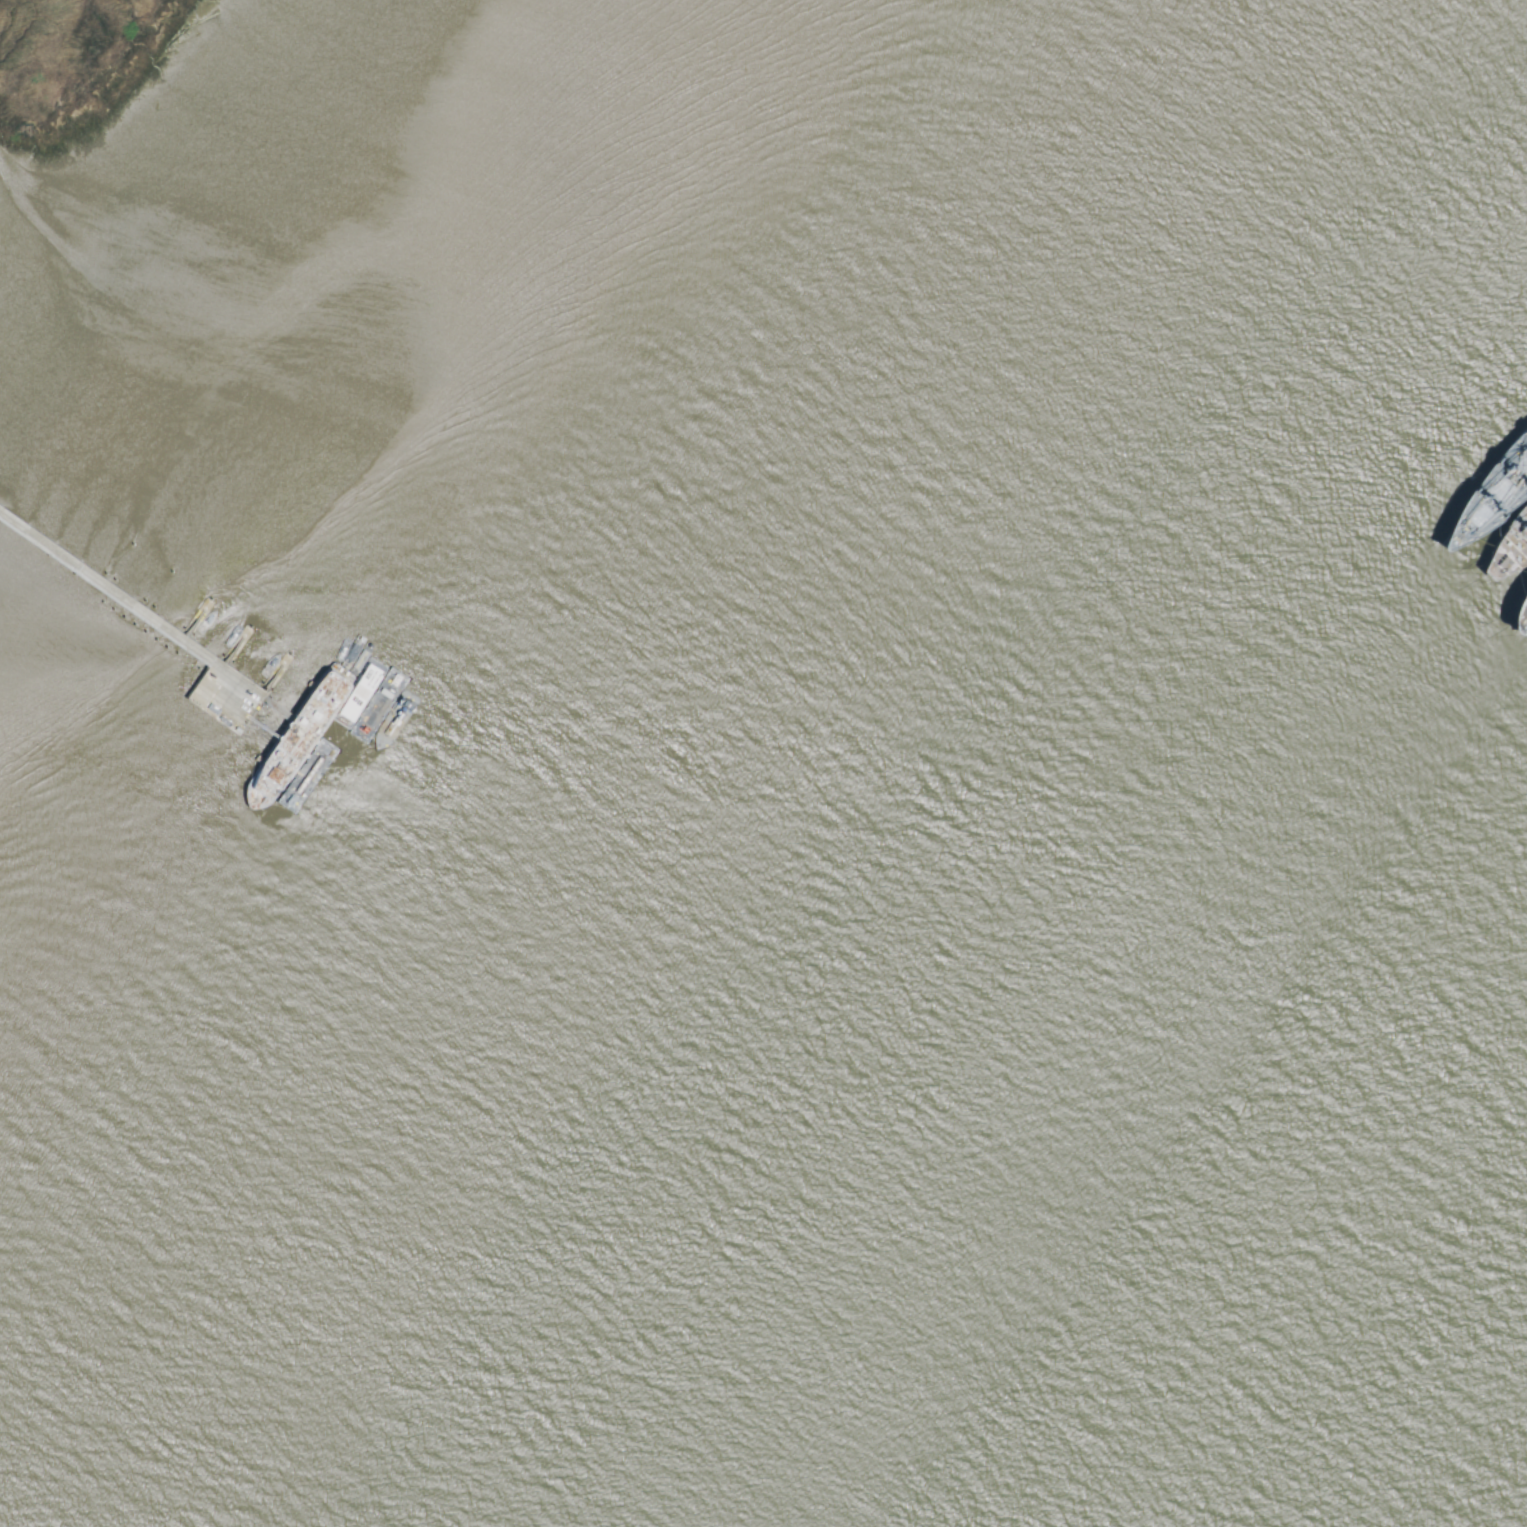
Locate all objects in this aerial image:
pier: (92, 576)
pier: (199, 612)
road: (196, 619)
pier: (239, 639)
road: (235, 646)
pier: (278, 667)
road: (274, 674)

